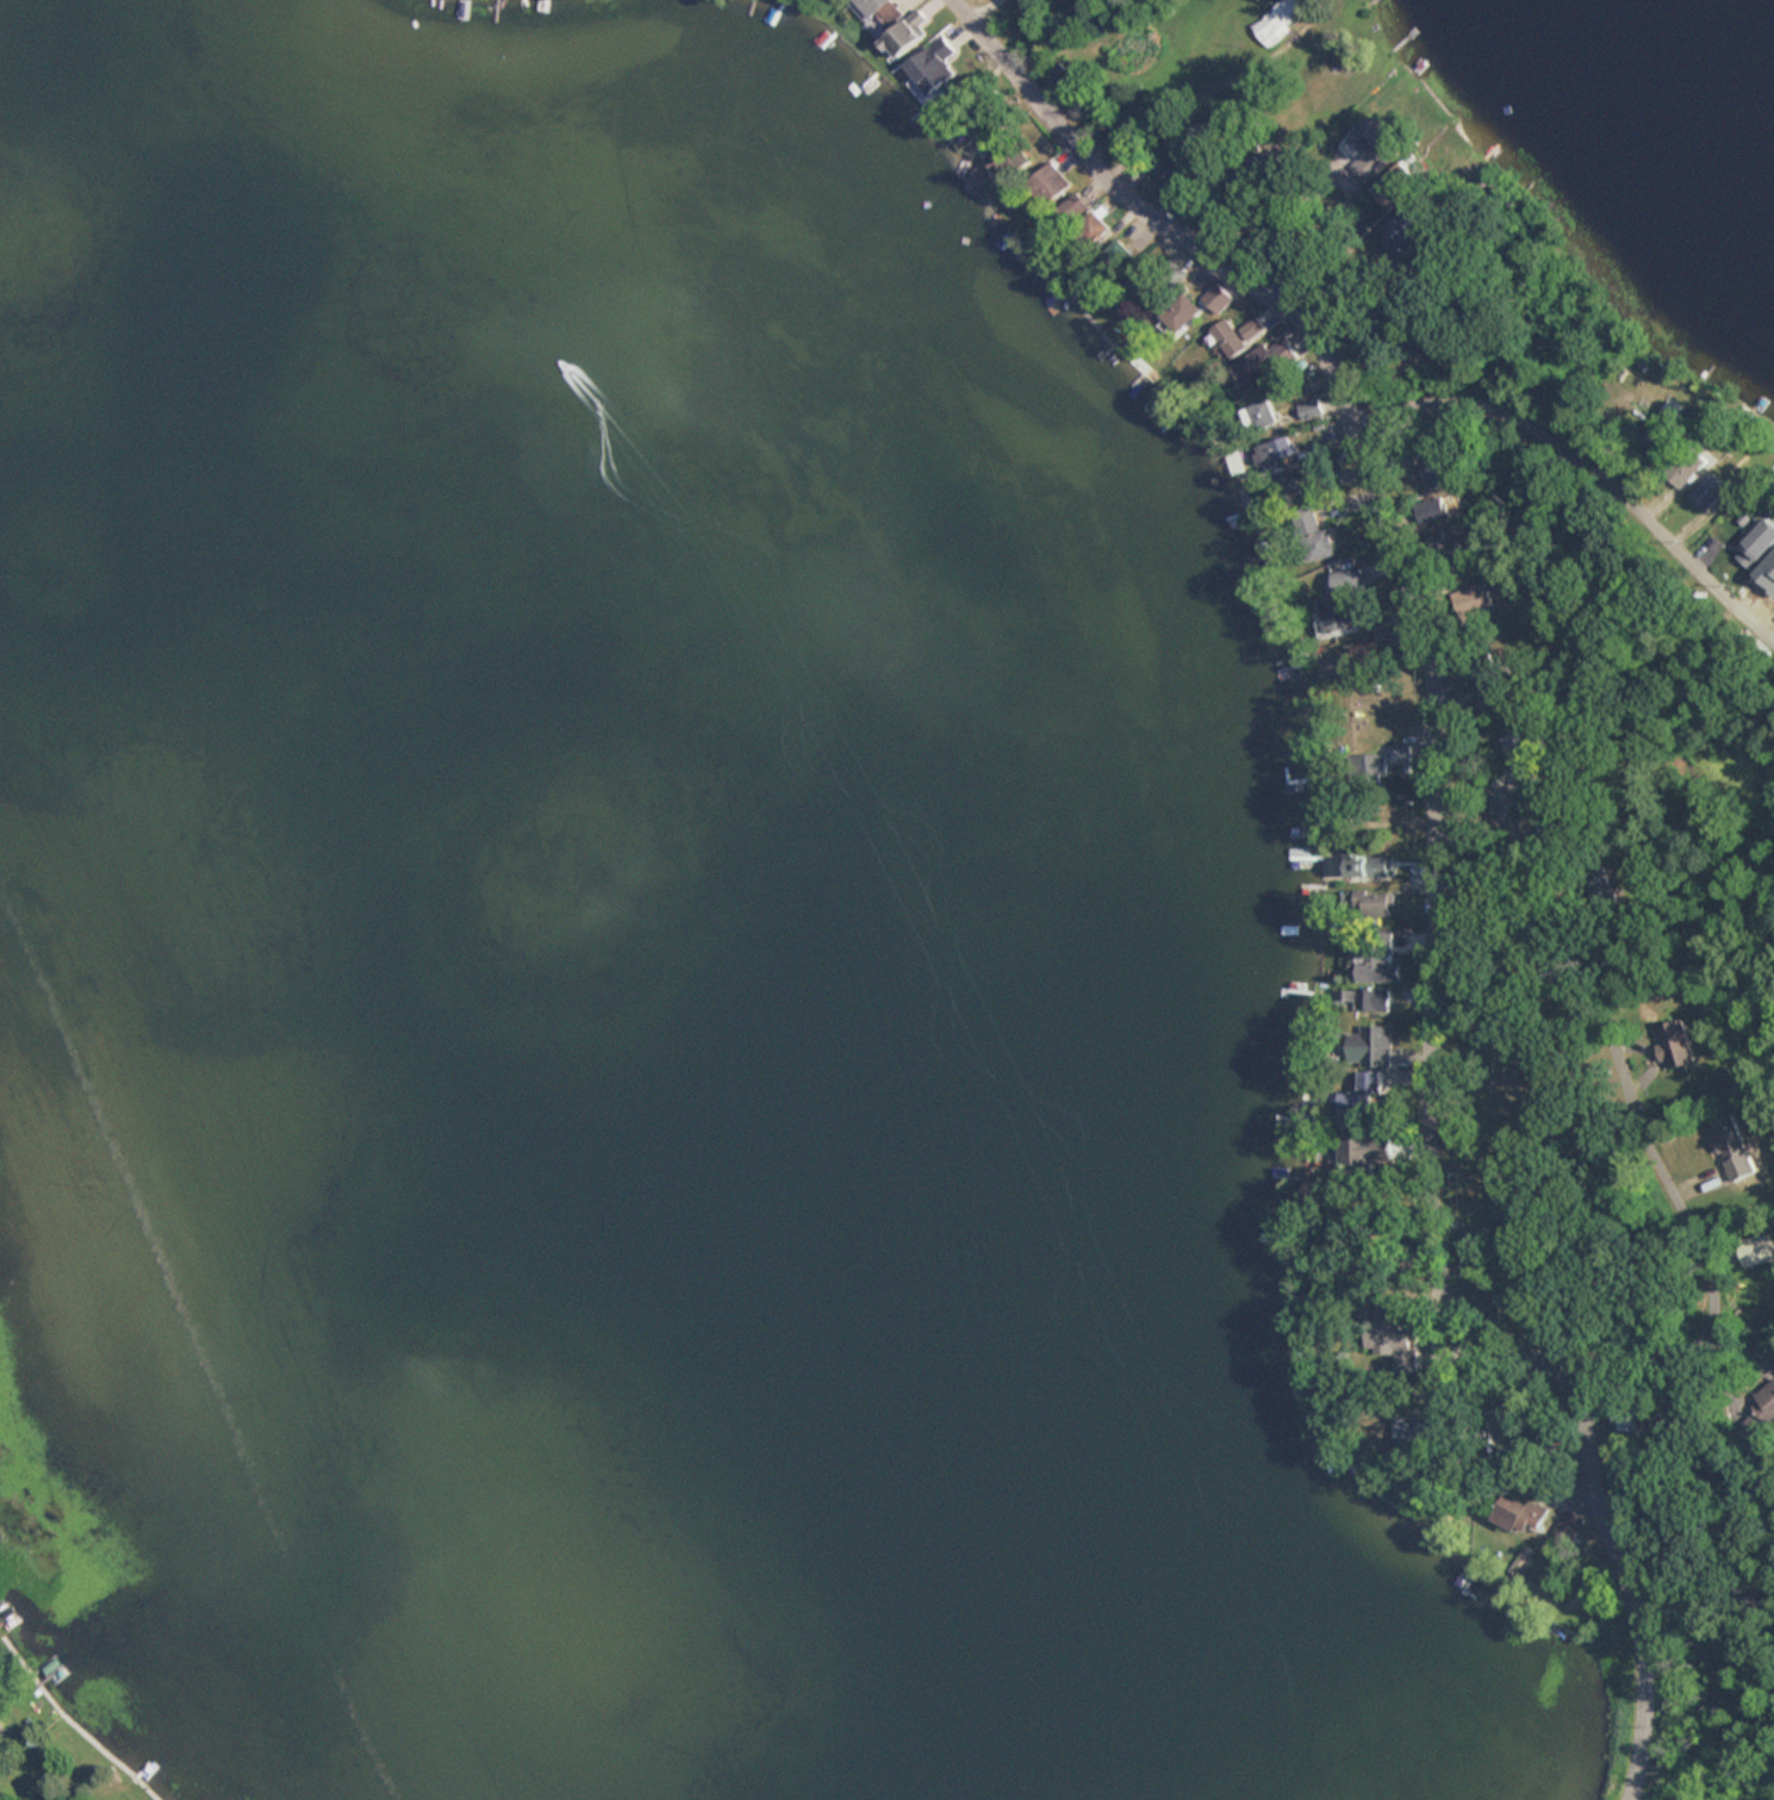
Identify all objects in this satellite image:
building: (879, 12)
building: (1277, 20)
building: (907, 31)
building: (936, 69)
building: (1057, 76)
building: (1000, 150)
building: (1371, 151)
building: (1046, 185)
building: (1071, 208)
building: (1093, 226)
building: (1114, 256)
building: (1145, 285)
building: (1219, 298)
building: (1179, 312)
building: (1228, 338)
building: (1262, 362)
building: (1311, 409)
building: (1265, 422)
road: (1583, 453)
building: (1688, 466)
building: (1437, 473)
building: (1301, 488)
building: (1712, 491)
building: (1432, 510)
building: (1311, 534)
building: (1759, 546)
building: (1340, 606)
road: (1420, 631)
building: (1493, 700)
building: (1521, 756)
building: (1400, 758)
building: (1550, 834)
building: (1368, 866)
building: (1369, 904)
building: (1376, 966)
road: (1711, 995)
building: (1374, 998)
building: (1372, 1045)
building: (1675, 1045)
building: (1365, 1100)
building: (1732, 1147)
building: (1367, 1151)
road: (1691, 1344)
building: (1763, 1410)
building: (1495, 1421)
building: (1407, 1430)
building: (1519, 1513)
building: (1570, 1526)
road: (1632, 1584)

